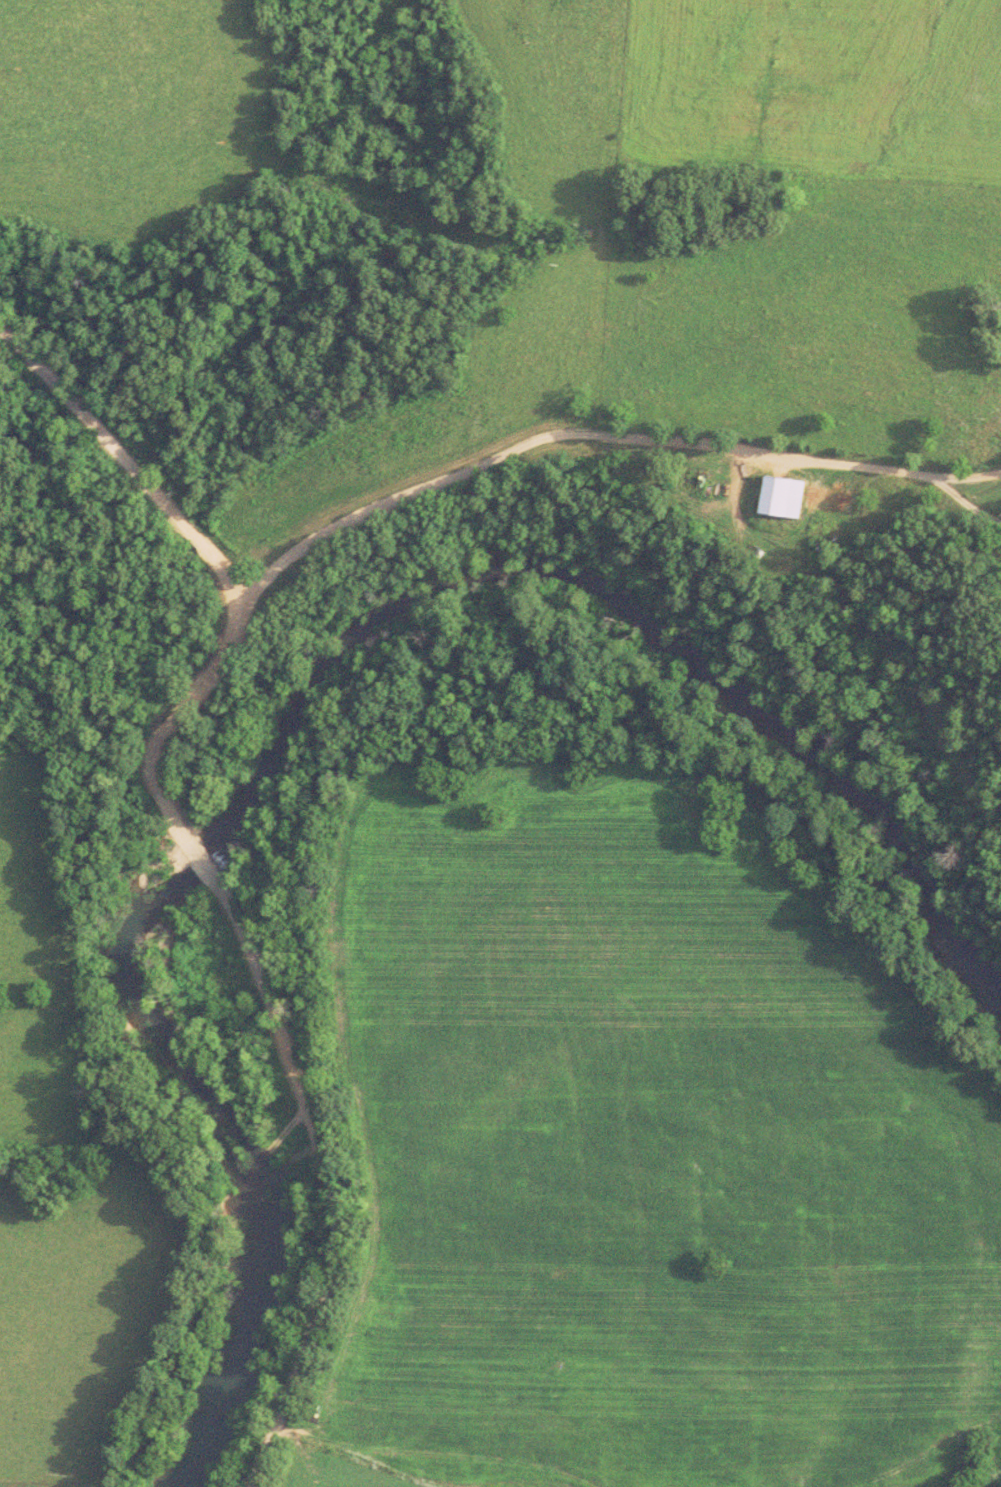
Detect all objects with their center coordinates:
road: (378, 508)
road: (197, 863)

